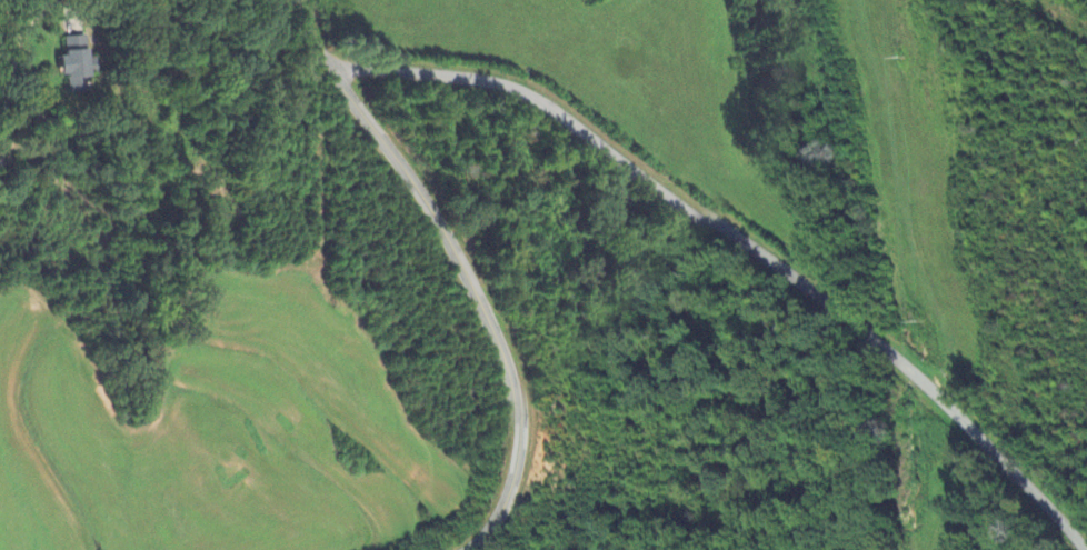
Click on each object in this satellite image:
road: (14, 57)
building: (76, 61)
road: (742, 246)
road: (457, 269)

